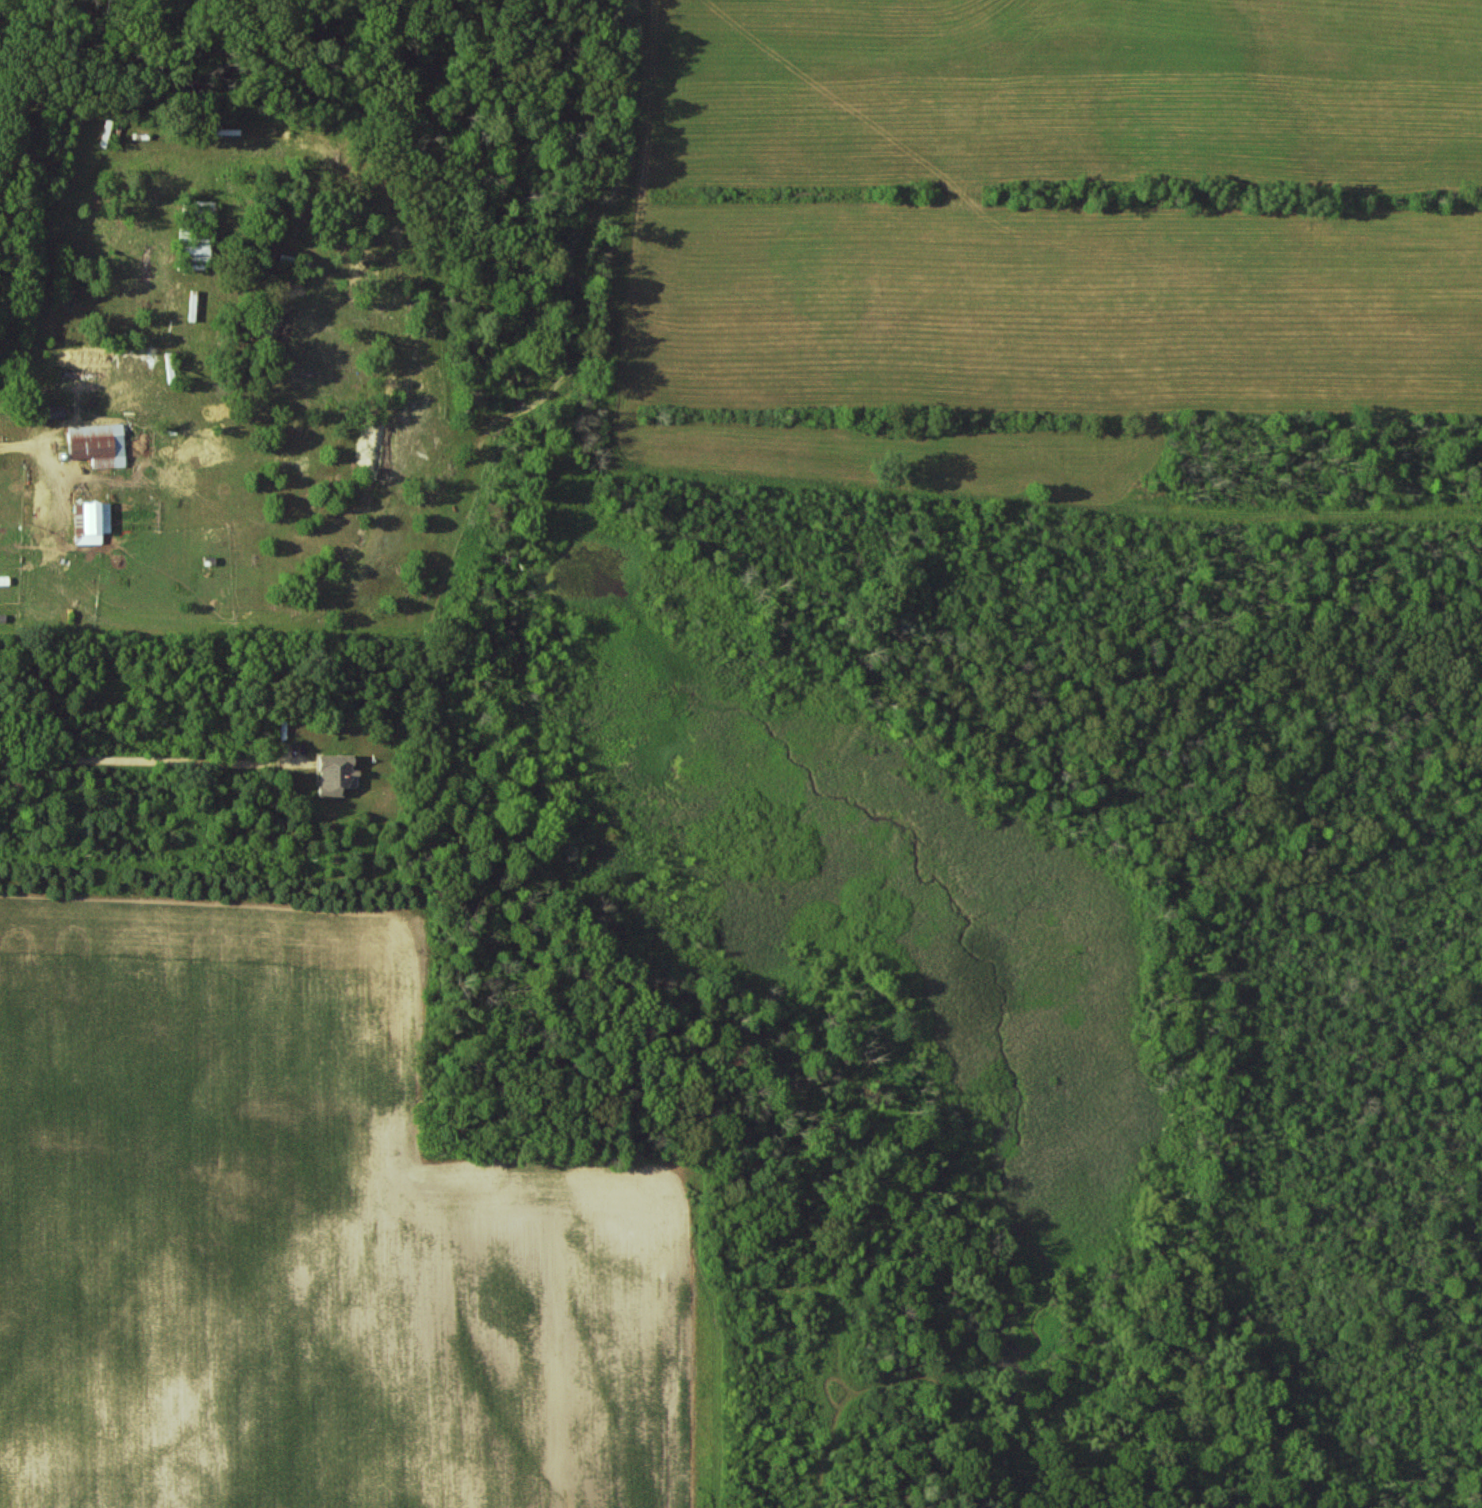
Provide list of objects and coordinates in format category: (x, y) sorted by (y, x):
building: (97, 445)
building: (91, 523)
building: (334, 774)

